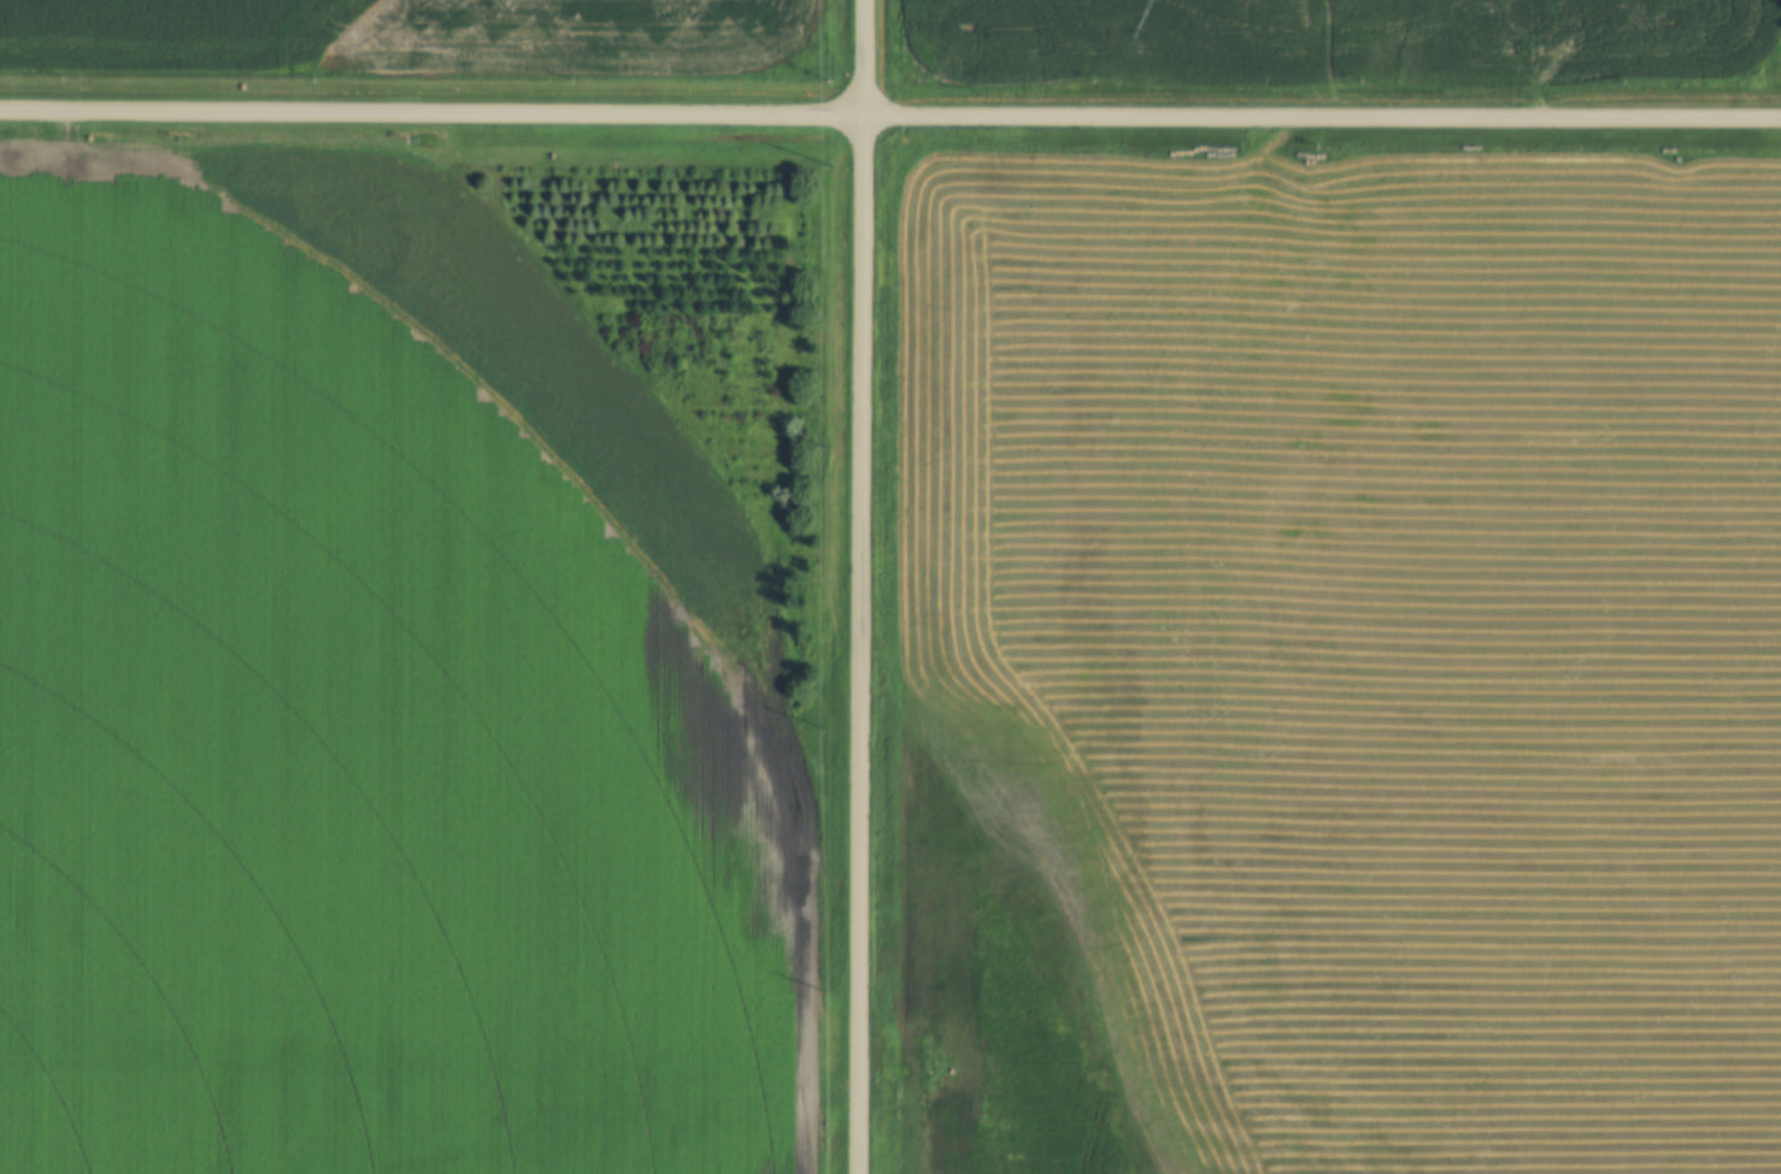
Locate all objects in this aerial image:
road: (890, 117)
road: (863, 586)

